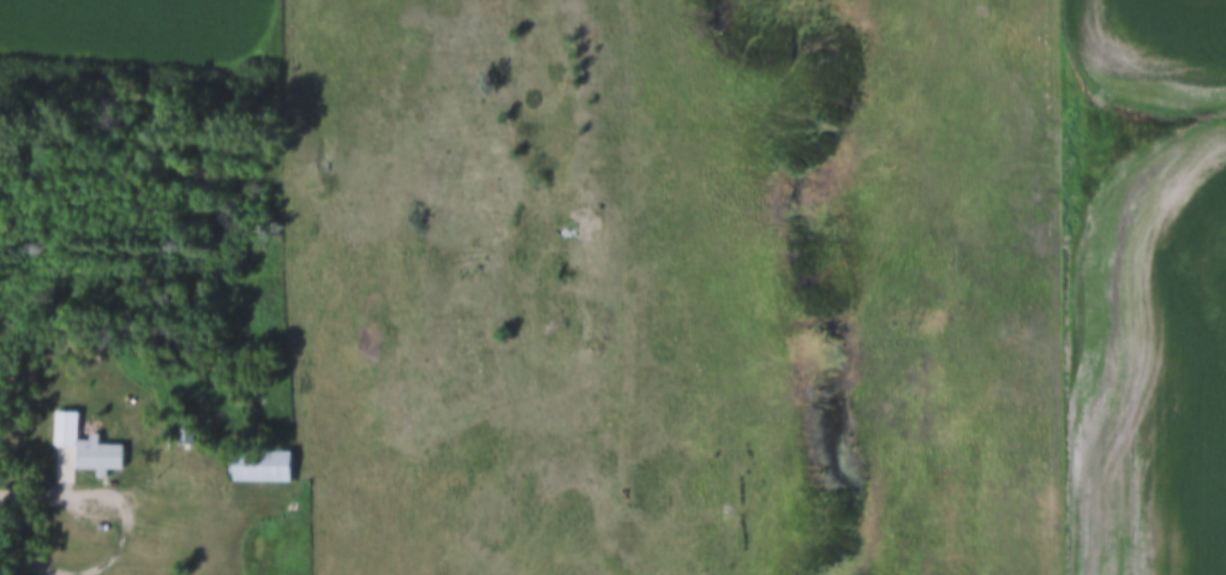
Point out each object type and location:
building: (89, 444)
building: (265, 466)
road: (56, 492)

